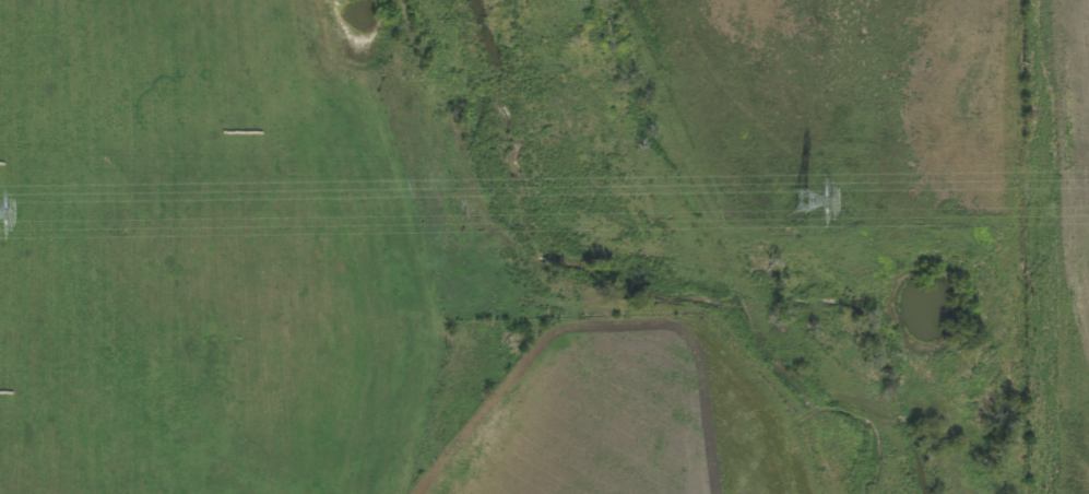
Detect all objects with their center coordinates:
building: (813, 197)
power tower: (805, 200)
road: (197, 290)

